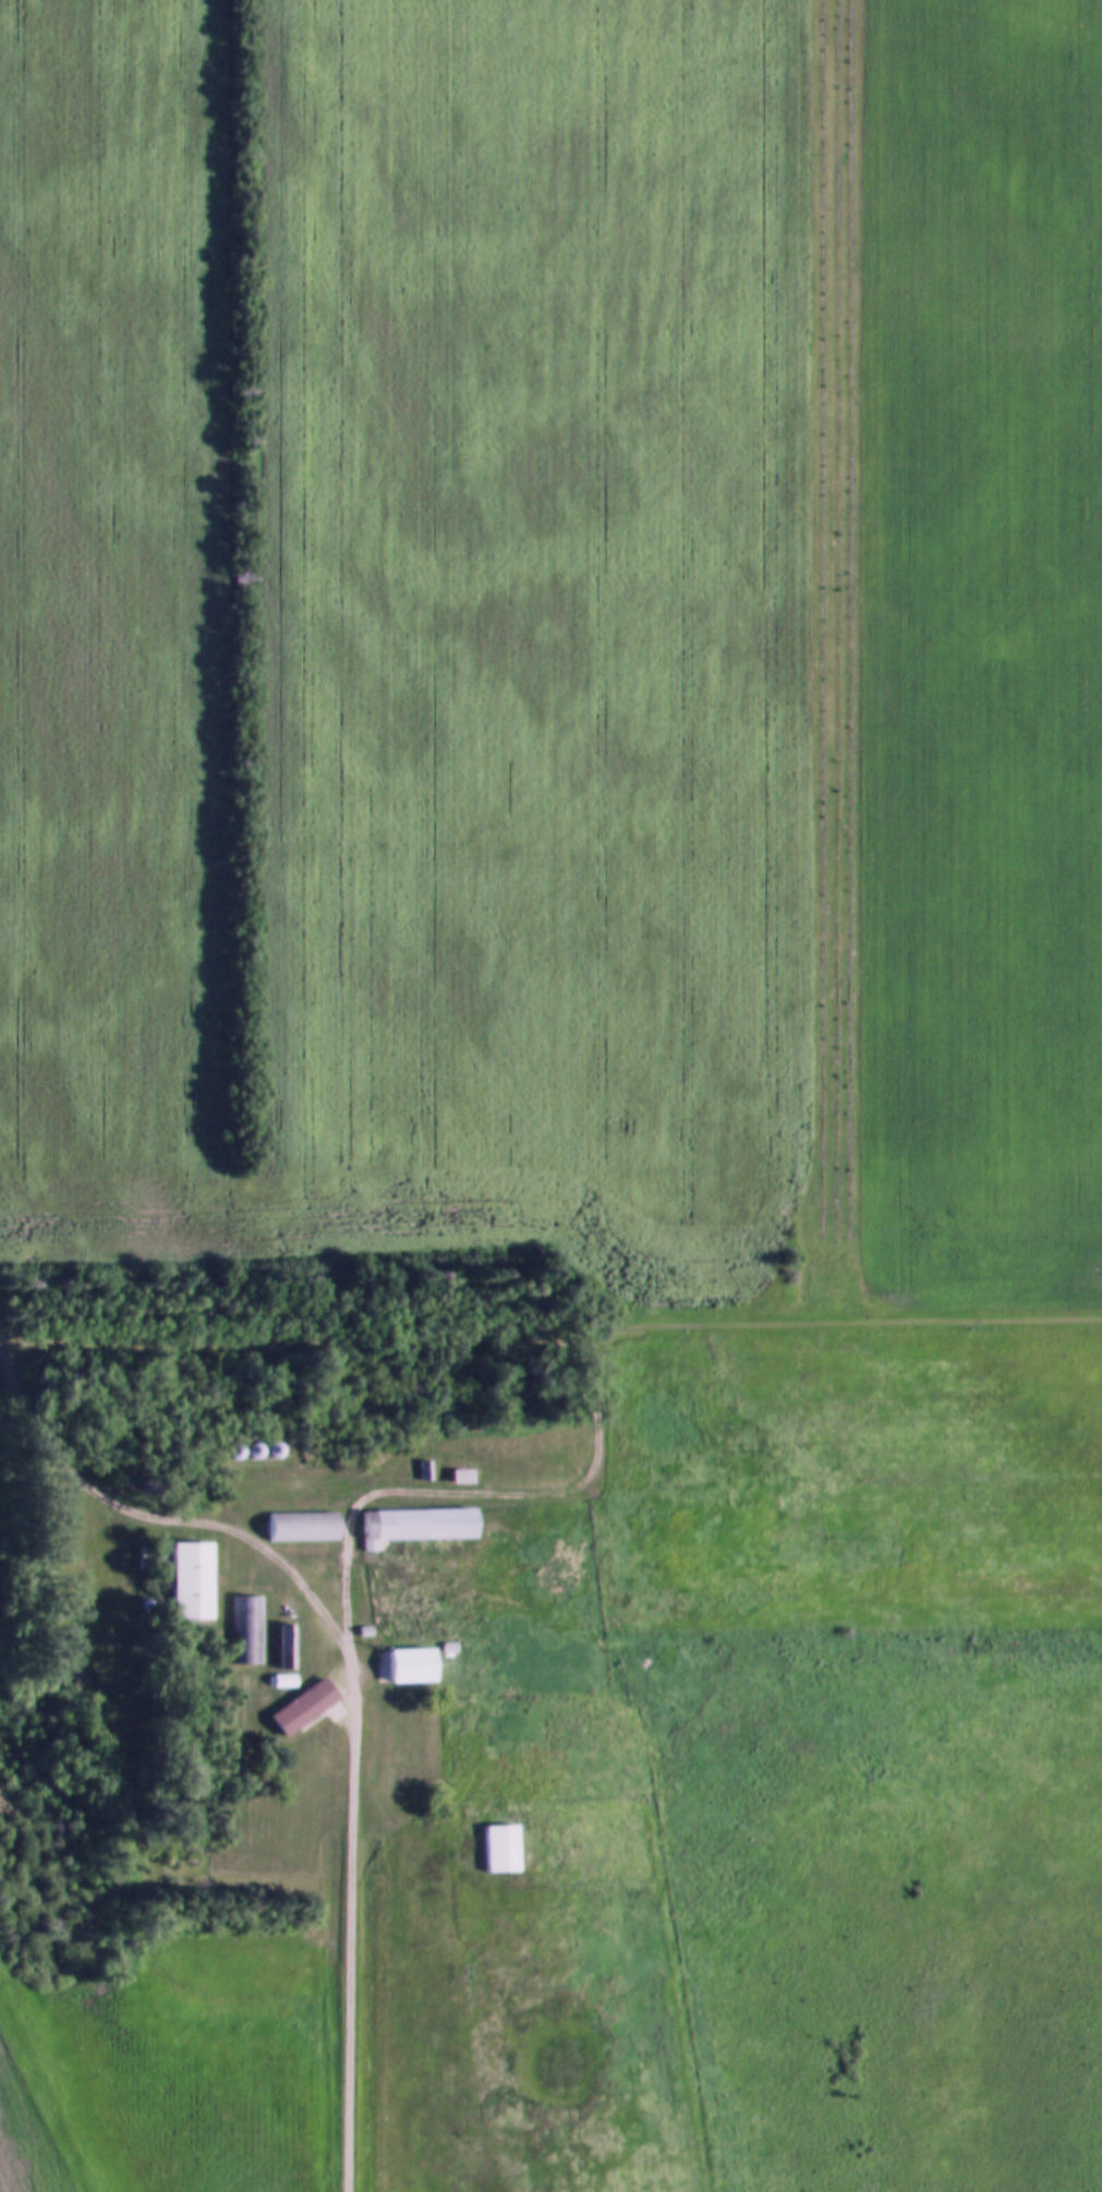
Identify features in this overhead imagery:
building: (267, 1450)
road: (52, 1452)
building: (421, 1470)
building: (455, 1477)
building: (411, 1525)
building: (296, 1527)
road: (268, 1553)
building: (186, 1580)
building: (247, 1630)
building: (284, 1650)
building: (403, 1665)
road: (352, 1688)
building: (298, 1708)
building: (495, 1848)

